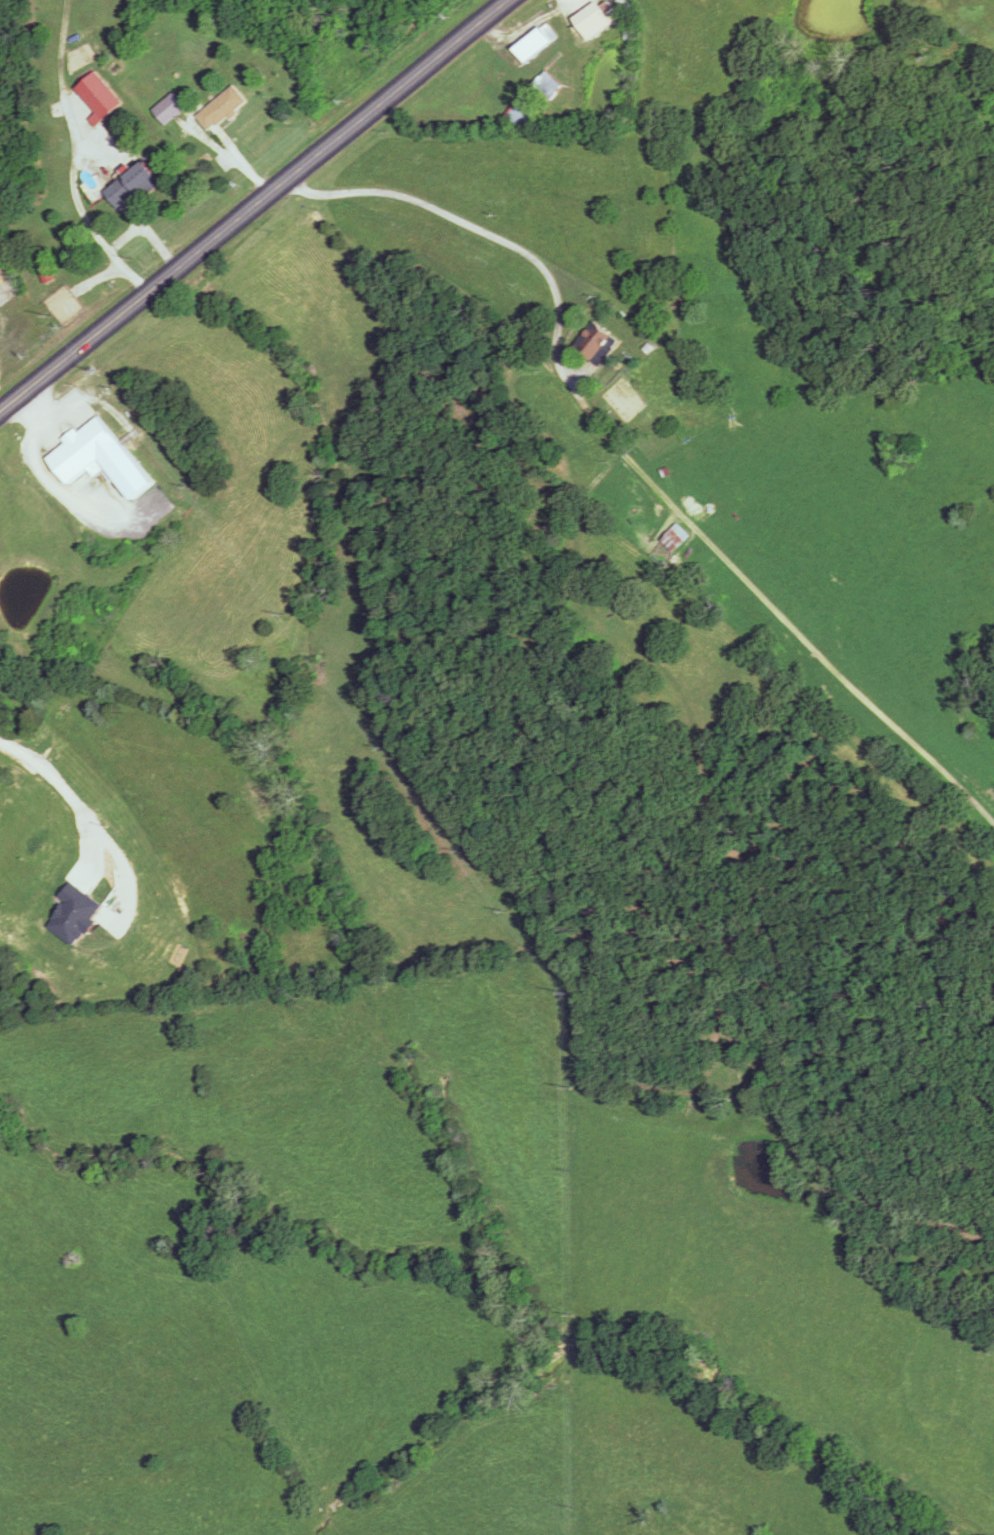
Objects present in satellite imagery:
building: (593, 21)
building: (535, 44)
building: (547, 85)
building: (225, 109)
building: (172, 110)
building: (520, 113)
building: (133, 183)
road: (252, 204)
building: (597, 343)
building: (99, 457)
building: (677, 537)

